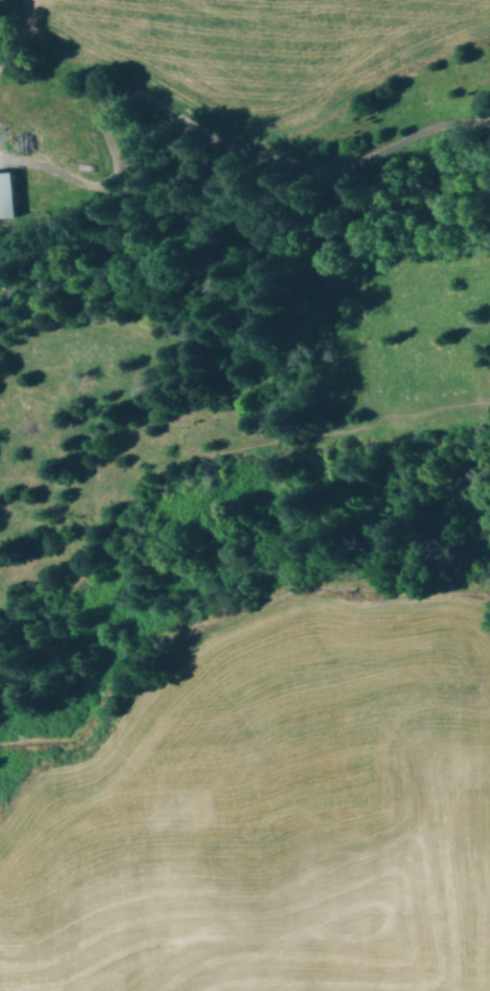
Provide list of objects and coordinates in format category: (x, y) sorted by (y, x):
crop: (260, 49)
building: (11, 195)

